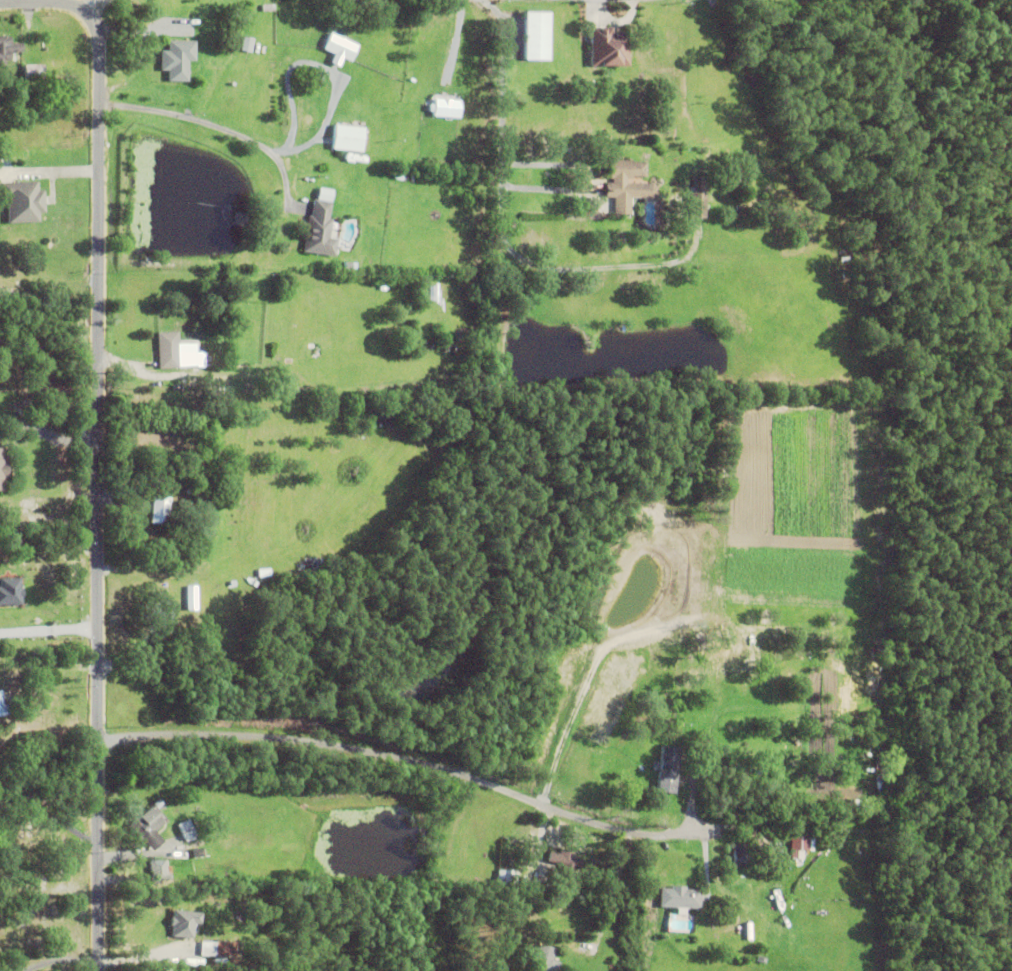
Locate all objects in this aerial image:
building: (268, 6)
road: (93, 7)
building: (184, 13)
building: (215, 15)
building: (537, 32)
building: (247, 42)
building: (608, 44)
building: (8, 47)
building: (337, 48)
building: (178, 57)
building: (34, 70)
building: (338, 88)
building: (442, 107)
building: (304, 116)
road: (503, 121)
road: (220, 128)
building: (348, 137)
building: (400, 173)
building: (625, 185)
building: (699, 196)
building: (23, 198)
building: (240, 217)
building: (320, 229)
building: (812, 232)
building: (813, 243)
building: (349, 264)
building: (168, 349)
building: (232, 351)
building: (271, 375)
building: (195, 383)
building: (224, 389)
building: (357, 421)
road: (99, 445)
building: (161, 509)
building: (265, 572)
building: (9, 591)
building: (200, 596)
building: (773, 625)
road: (49, 634)
building: (723, 648)
building: (831, 664)
building: (652, 672)
building: (610, 682)
building: (806, 689)
road: (583, 695)
building: (3, 705)
building: (866, 736)
building: (881, 757)
road: (399, 759)
building: (786, 765)
building: (668, 769)
building: (730, 770)
building: (880, 781)
road: (49, 819)
building: (149, 827)
building: (187, 830)
building: (803, 841)
building: (198, 852)
building: (798, 854)
building: (745, 856)
building: (566, 858)
building: (159, 871)
building: (503, 875)
building: (680, 898)
building: (184, 923)
building: (217, 948)
building: (544, 958)

